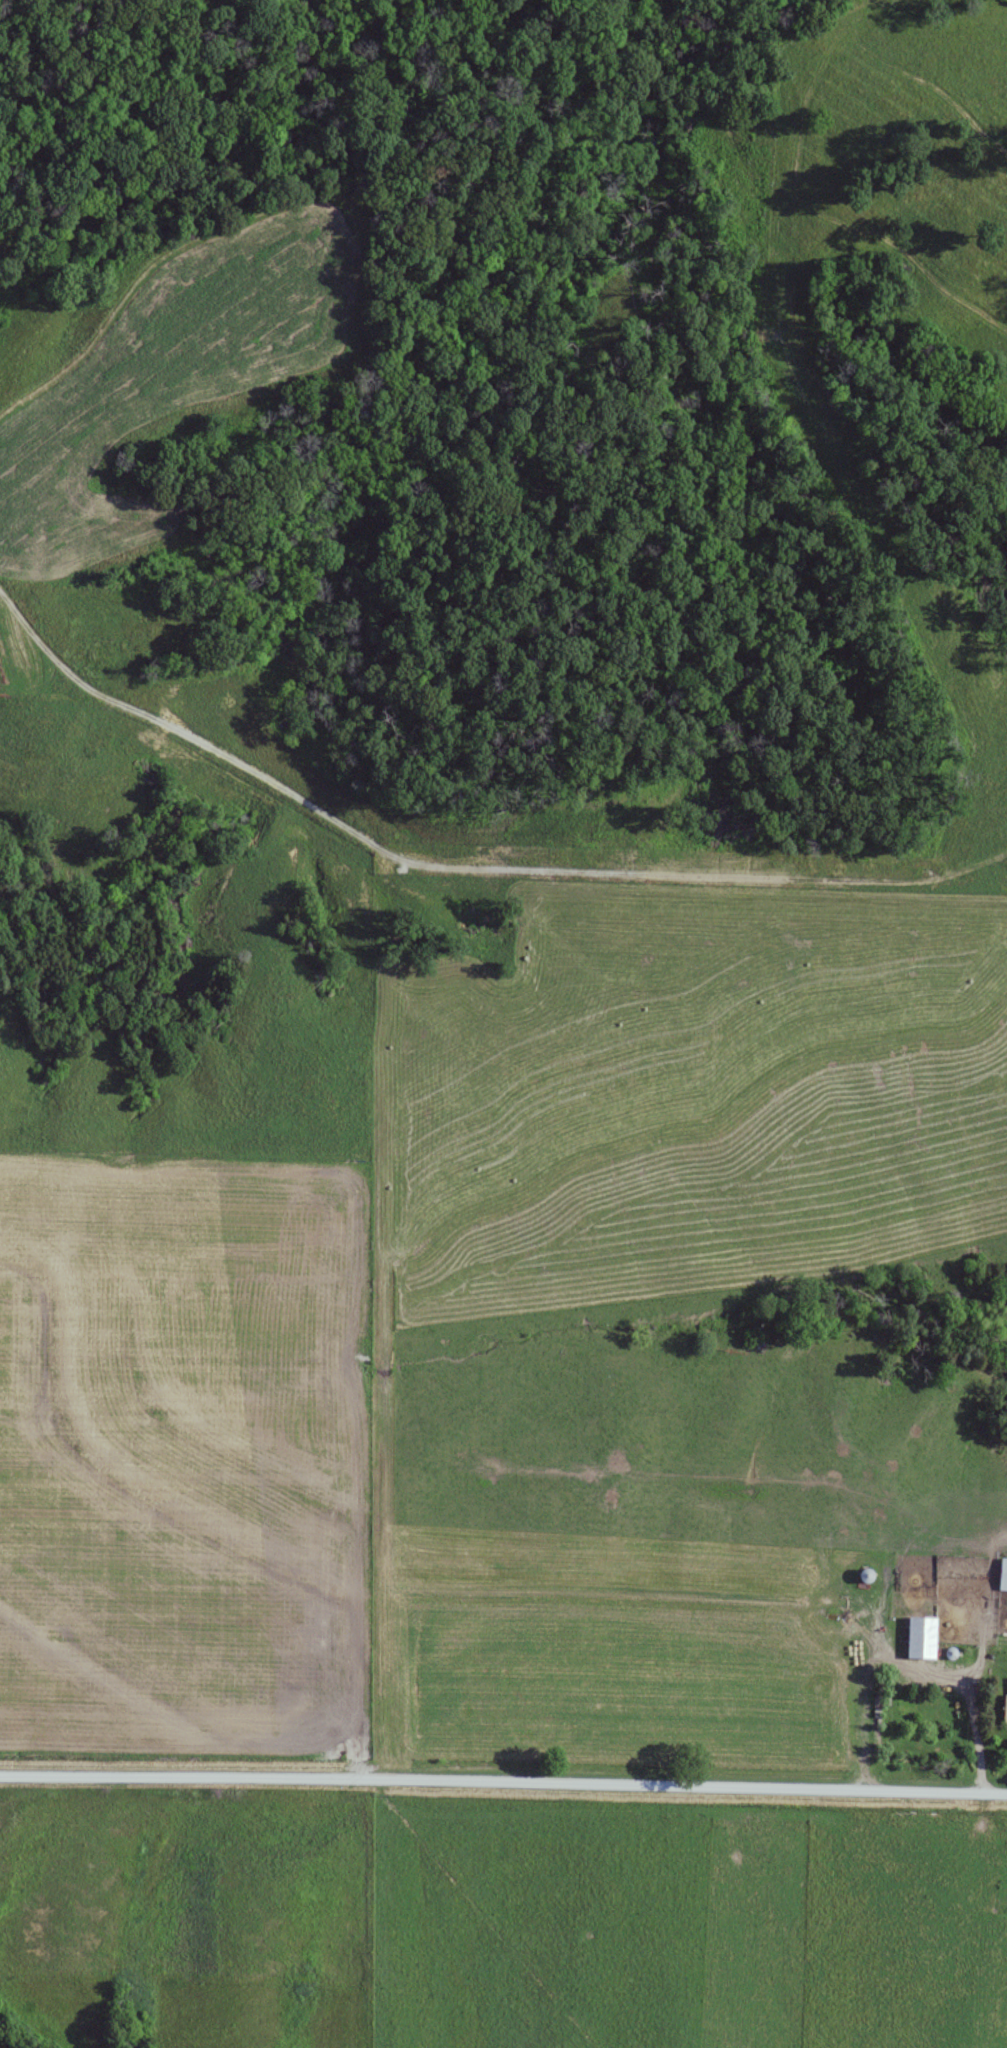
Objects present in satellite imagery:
building: (921, 1638)
road: (503, 1780)

